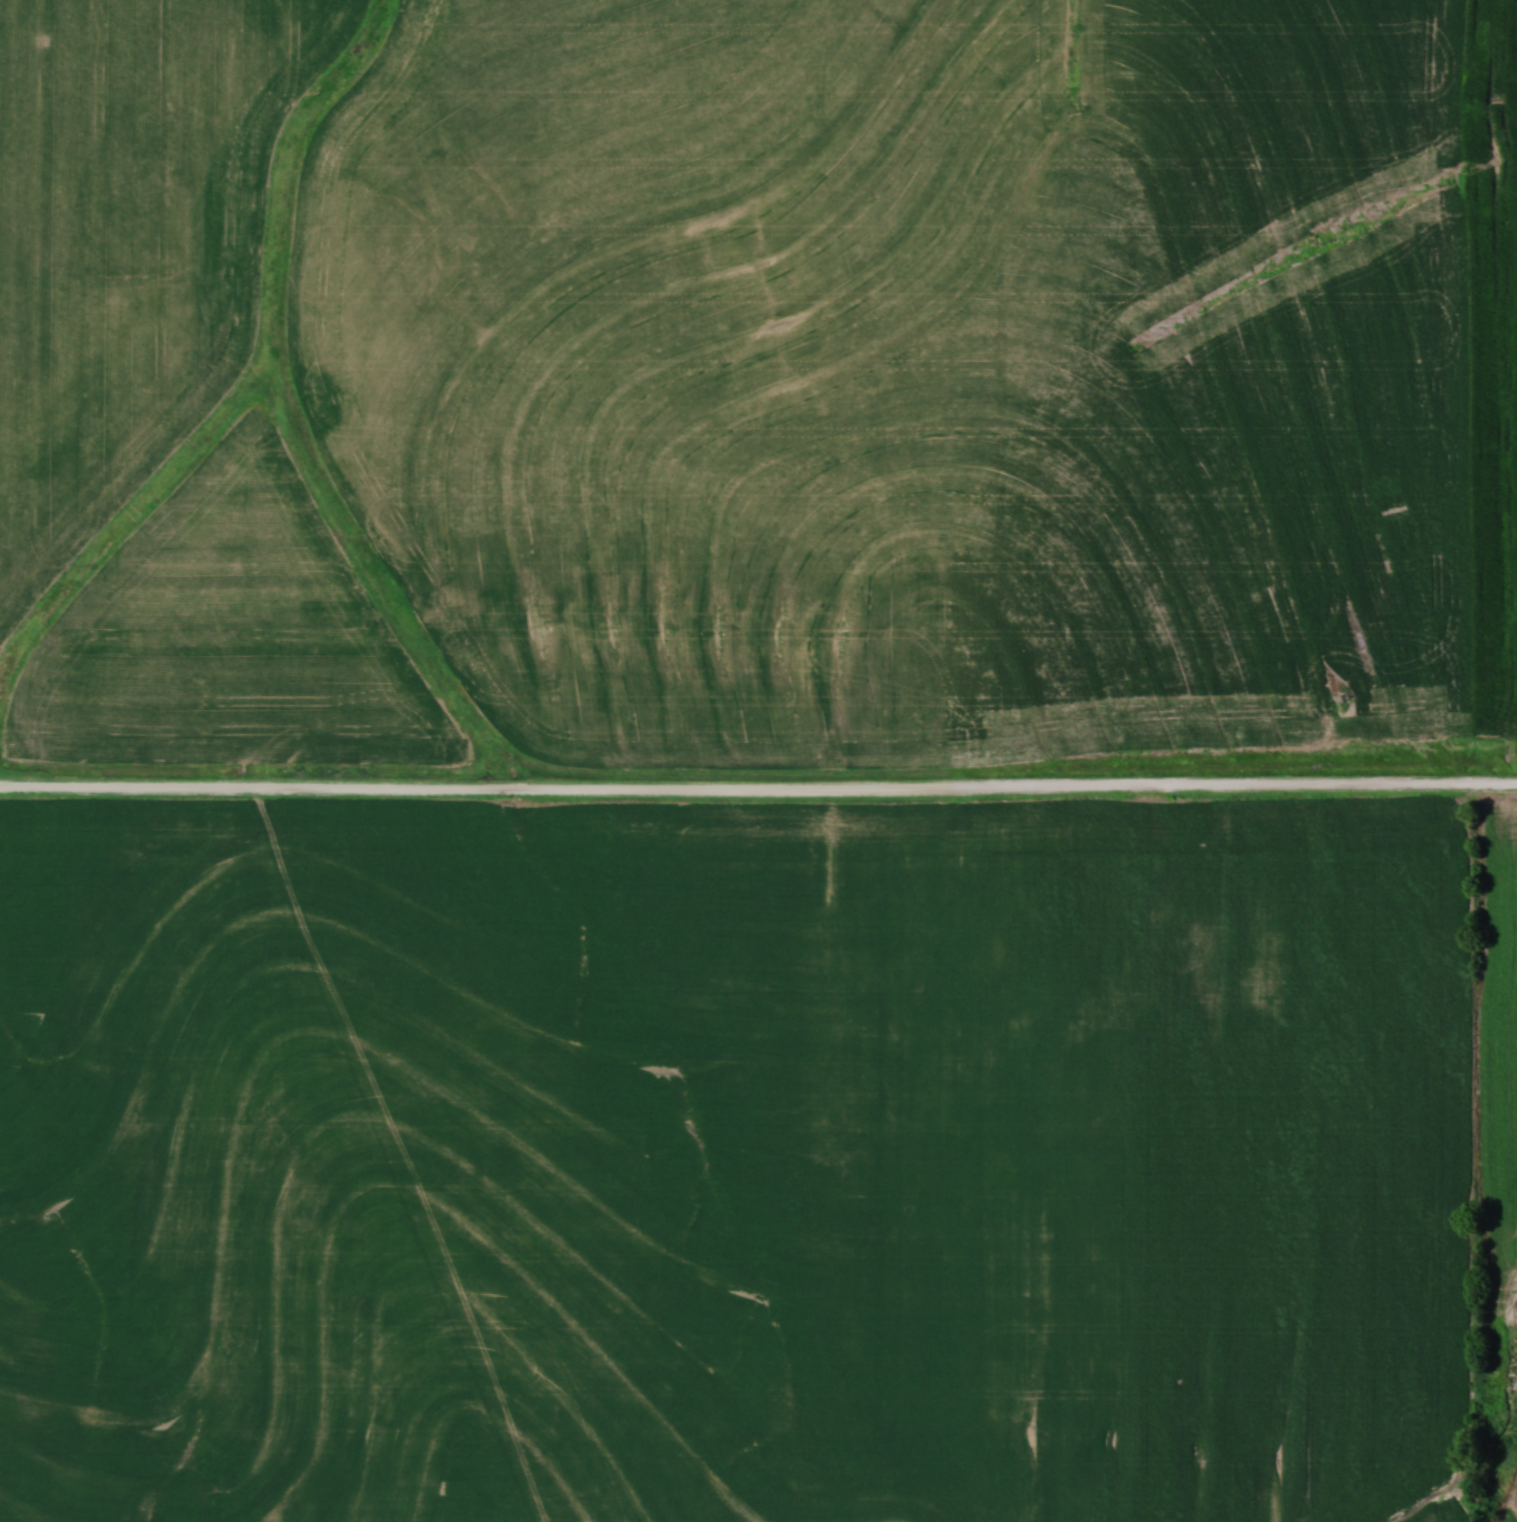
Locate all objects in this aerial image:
road: (758, 793)
building: (1191, 848)

